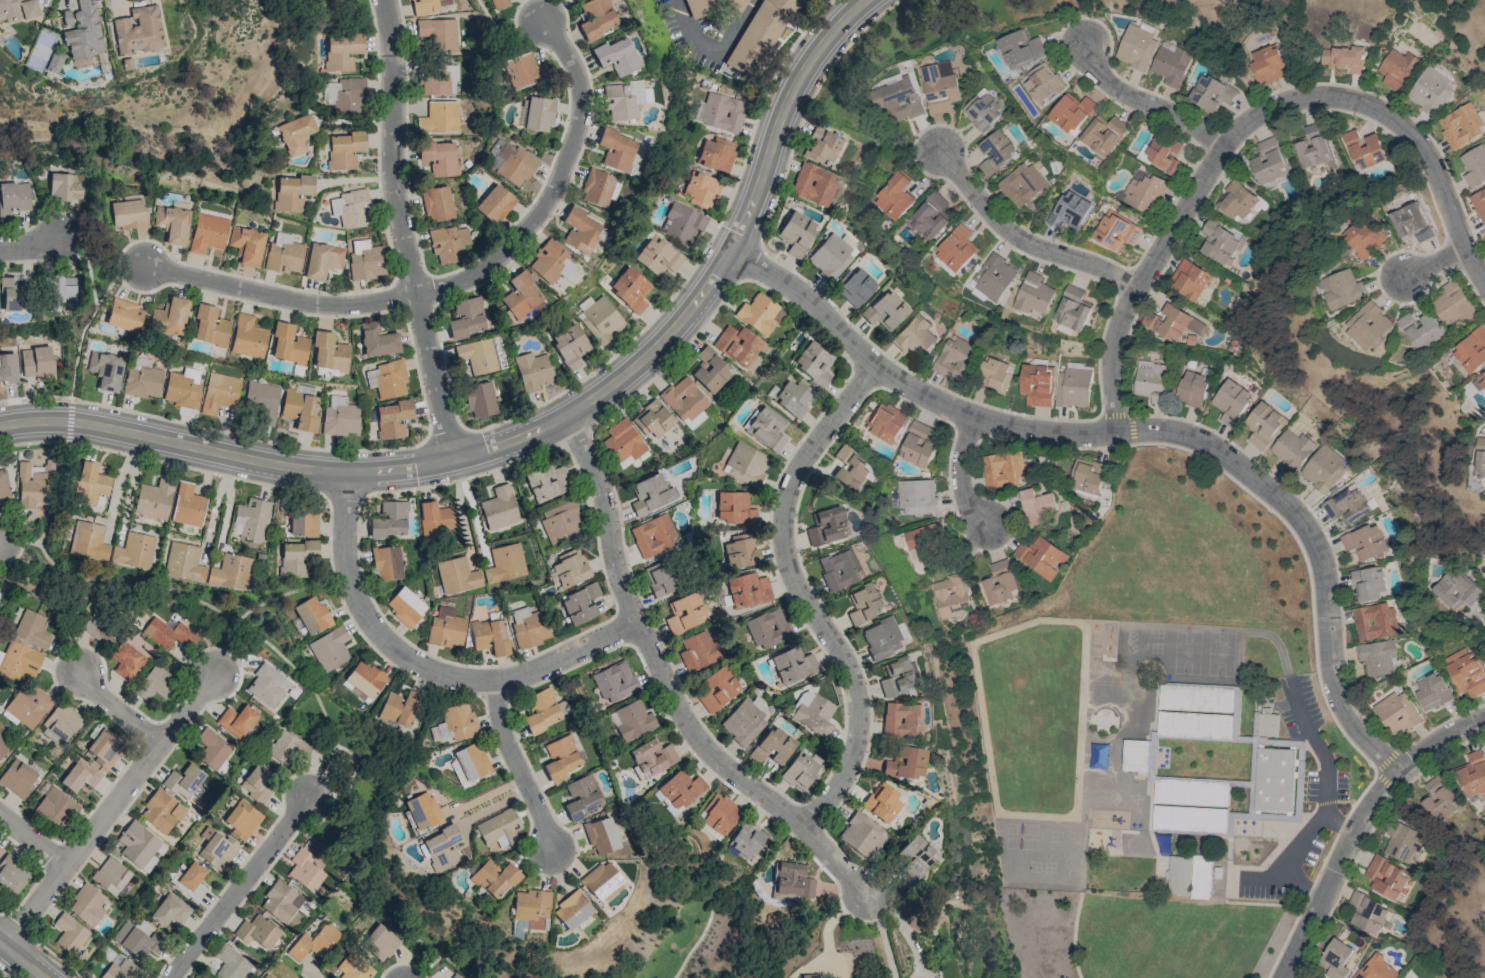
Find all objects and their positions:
building: (498, 3)
building: (430, 6)
building: (712, 7)
building: (18, 9)
building: (67, 17)
building: (597, 18)
road: (736, 25)
building: (138, 30)
building: (761, 31)
building: (85, 32)
road: (689, 32)
building: (439, 34)
road: (844, 48)
building: (1136, 48)
building: (1020, 49)
building: (343, 50)
building: (617, 55)
building: (1344, 59)
building: (55, 62)
building: (1170, 64)
building: (1267, 64)
building: (1397, 70)
building: (523, 71)
building: (437, 79)
building: (1043, 83)
building: (939, 87)
building: (1429, 91)
building: (1210, 93)
building: (346, 94)
building: (623, 99)
building: (898, 100)
road: (1149, 103)
building: (982, 110)
building: (722, 112)
building: (537, 113)
building: (1071, 113)
building: (439, 117)
road: (1247, 124)
building: (1460, 126)
building: (296, 134)
building: (1103, 135)
building: (821, 145)
building: (1312, 147)
building: (1364, 149)
building: (344, 150)
building: (620, 151)
building: (996, 151)
building: (716, 154)
building: (1162, 154)
building: (443, 159)
building: (1267, 163)
building: (514, 164)
building: (1474, 166)
building: (813, 184)
building: (1021, 184)
building: (65, 187)
building: (599, 188)
building: (701, 189)
building: (292, 191)
building: (1144, 193)
building: (897, 197)
building: (15, 198)
building: (1235, 200)
building: (437, 204)
building: (495, 204)
building: (1478, 204)
building: (351, 208)
building: (1068, 211)
building: (129, 213)
building: (930, 216)
building: (683, 222)
building: (173, 224)
building: (581, 229)
road: (404, 230)
building: (1115, 231)
building: (209, 233)
building: (796, 233)
road: (1024, 238)
building: (1484, 238)
building: (1365, 239)
building: (1219, 242)
road: (28, 243)
building: (449, 243)
building: (248, 245)
building: (957, 249)
building: (284, 253)
building: (832, 255)
building: (658, 256)
building: (323, 259)
building: (367, 259)
building: (553, 263)
road: (1438, 263)
road: (86, 265)
building: (994, 277)
building: (1188, 280)
road: (460, 284)
building: (854, 287)
building: (630, 289)
building: (1345, 289)
building: (59, 290)
building: (1033, 294)
building: (12, 295)
building: (522, 295)
building: (1452, 303)
building: (1072, 309)
building: (885, 310)
building: (759, 314)
building: (170, 315)
building: (125, 316)
building: (468, 317)
building: (600, 320)
building: (1172, 323)
building: (210, 326)
building: (1368, 326)
building: (1421, 330)
building: (914, 336)
building: (248, 337)
building: (378, 340)
building: (287, 344)
building: (737, 344)
building: (570, 346)
building: (1471, 351)
building: (329, 352)
building: (480, 356)
building: (955, 359)
building: (37, 362)
building: (813, 363)
building: (8, 367)
building: (106, 370)
building: (709, 370)
building: (533, 371)
building: (995, 376)
building: (1481, 378)
building: (143, 379)
building: (387, 379)
building: (1151, 381)
building: (1036, 385)
building: (183, 388)
building: (1072, 388)
building: (1190, 389)
building: (221, 392)
building: (792, 398)
building: (262, 400)
building: (480, 400)
building: (684, 401)
building: (1230, 401)
building: (301, 409)
road: (995, 410)
building: (340, 416)
building: (393, 419)
building: (652, 419)
building: (886, 422)
building: (1262, 425)
road: (540, 428)
building: (766, 428)
road: (1140, 433)
building: (623, 441)
building: (916, 445)
building: (1291, 450)
building: (1480, 458)
building: (745, 464)
building: (850, 469)
building: (1003, 469)
building: (1322, 469)
building: (1087, 476)
road: (965, 478)
road: (119, 480)
building: (547, 482)
building: (35, 484)
building: (91, 484)
building: (3, 485)
building: (651, 494)
building: (916, 496)
building: (155, 499)
road: (458, 504)
building: (187, 505)
building: (1036, 505)
building: (1346, 505)
road: (215, 506)
building: (499, 507)
building: (733, 508)
building: (434, 518)
building: (251, 519)
road: (224, 520)
building: (390, 520)
building: (561, 521)
building: (303, 522)
building: (826, 526)
building: (653, 535)
road: (19, 540)
building: (88, 540)
building: (925, 542)
building: (1364, 542)
building: (134, 551)
building: (740, 551)
building: (1041, 556)
building: (295, 557)
building: (386, 563)
building: (505, 563)
building: (206, 567)
building: (840, 568)
building: (569, 569)
building: (457, 575)
building: (660, 578)
building: (1001, 582)
building: (1367, 584)
building: (1455, 589)
building: (747, 590)
road: (803, 594)
building: (950, 596)
road: (263, 603)
building: (580, 603)
building: (865, 603)
road: (203, 604)
building: (406, 607)
building: (684, 613)
building: (312, 615)
road: (1482, 619)
building: (1374, 621)
road: (64, 627)
building: (528, 627)
building: (99, 628)
building: (445, 628)
building: (767, 628)
building: (31, 629)
building: (166, 632)
building: (491, 636)
building: (884, 637)
building: (329, 648)
building: (699, 651)
building: (1, 655)
building: (1378, 658)
building: (20, 661)
building: (127, 661)
building: (792, 665)
road: (424, 667)
building: (1465, 672)
building: (898, 676)
road: (1320, 680)
building: (363, 681)
building: (613, 682)
building: (155, 683)
building: (266, 684)
building: (717, 688)
road: (670, 690)
building: (1431, 692)
building: (1196, 696)
building: (28, 705)
building: (399, 709)
road: (117, 710)
building: (543, 710)
building: (812, 713)
building: (1396, 713)
building: (633, 720)
building: (901, 720)
building: (61, 721)
building: (236, 721)
building: (743, 721)
building: (1267, 723)
building: (1193, 726)
building: (448, 739)
building: (771, 745)
building: (288, 747)
building: (3, 748)
building: (105, 748)
building: (213, 751)
building: (561, 757)
building: (652, 757)
building: (904, 763)
road: (516, 765)
building: (801, 771)
road: (323, 772)
building: (1472, 774)
building: (80, 775)
building: (18, 778)
building: (1273, 779)
building: (184, 782)
building: (256, 783)
parking lot: (1326, 787)
building: (679, 790)
building: (581, 796)
building: (1438, 800)
building: (881, 802)
building: (1188, 806)
building: (54, 808)
road: (107, 809)
building: (422, 810)
building: (162, 812)
building: (718, 813)
building: (242, 819)
road: (1357, 824)
building: (499, 830)
building: (861, 834)
building: (600, 835)
road: (32, 840)
building: (746, 840)
building: (1402, 842)
building: (138, 846)
building: (441, 848)
building: (216, 849)
building: (0, 850)
building: (912, 858)
building: (304, 870)
building: (12, 873)
building: (1179, 874)
building: (110, 876)
building: (1200, 877)
building: (494, 878)
building: (1385, 878)
building: (191, 880)
building: (601, 880)
building: (791, 881)
road: (239, 887)
building: (281, 901)
building: (87, 905)
building: (531, 908)
building: (571, 909)
building: (170, 910)
building: (1367, 913)
building: (516, 929)
building: (257, 932)
building: (70, 933)
road: (1073, 935)
park: (1135, 935)
road: (885, 938)
building: (137, 940)
building: (381, 940)
building: (313, 942)
road: (695, 946)
road: (21, 960)
building: (1334, 960)
building: (230, 963)
road: (430, 967)
building: (353, 968)
building: (1375, 968)
road: (12, 969)
building: (119, 969)
building: (266, 976)
building: (455, 976)
building: (807, 976)

